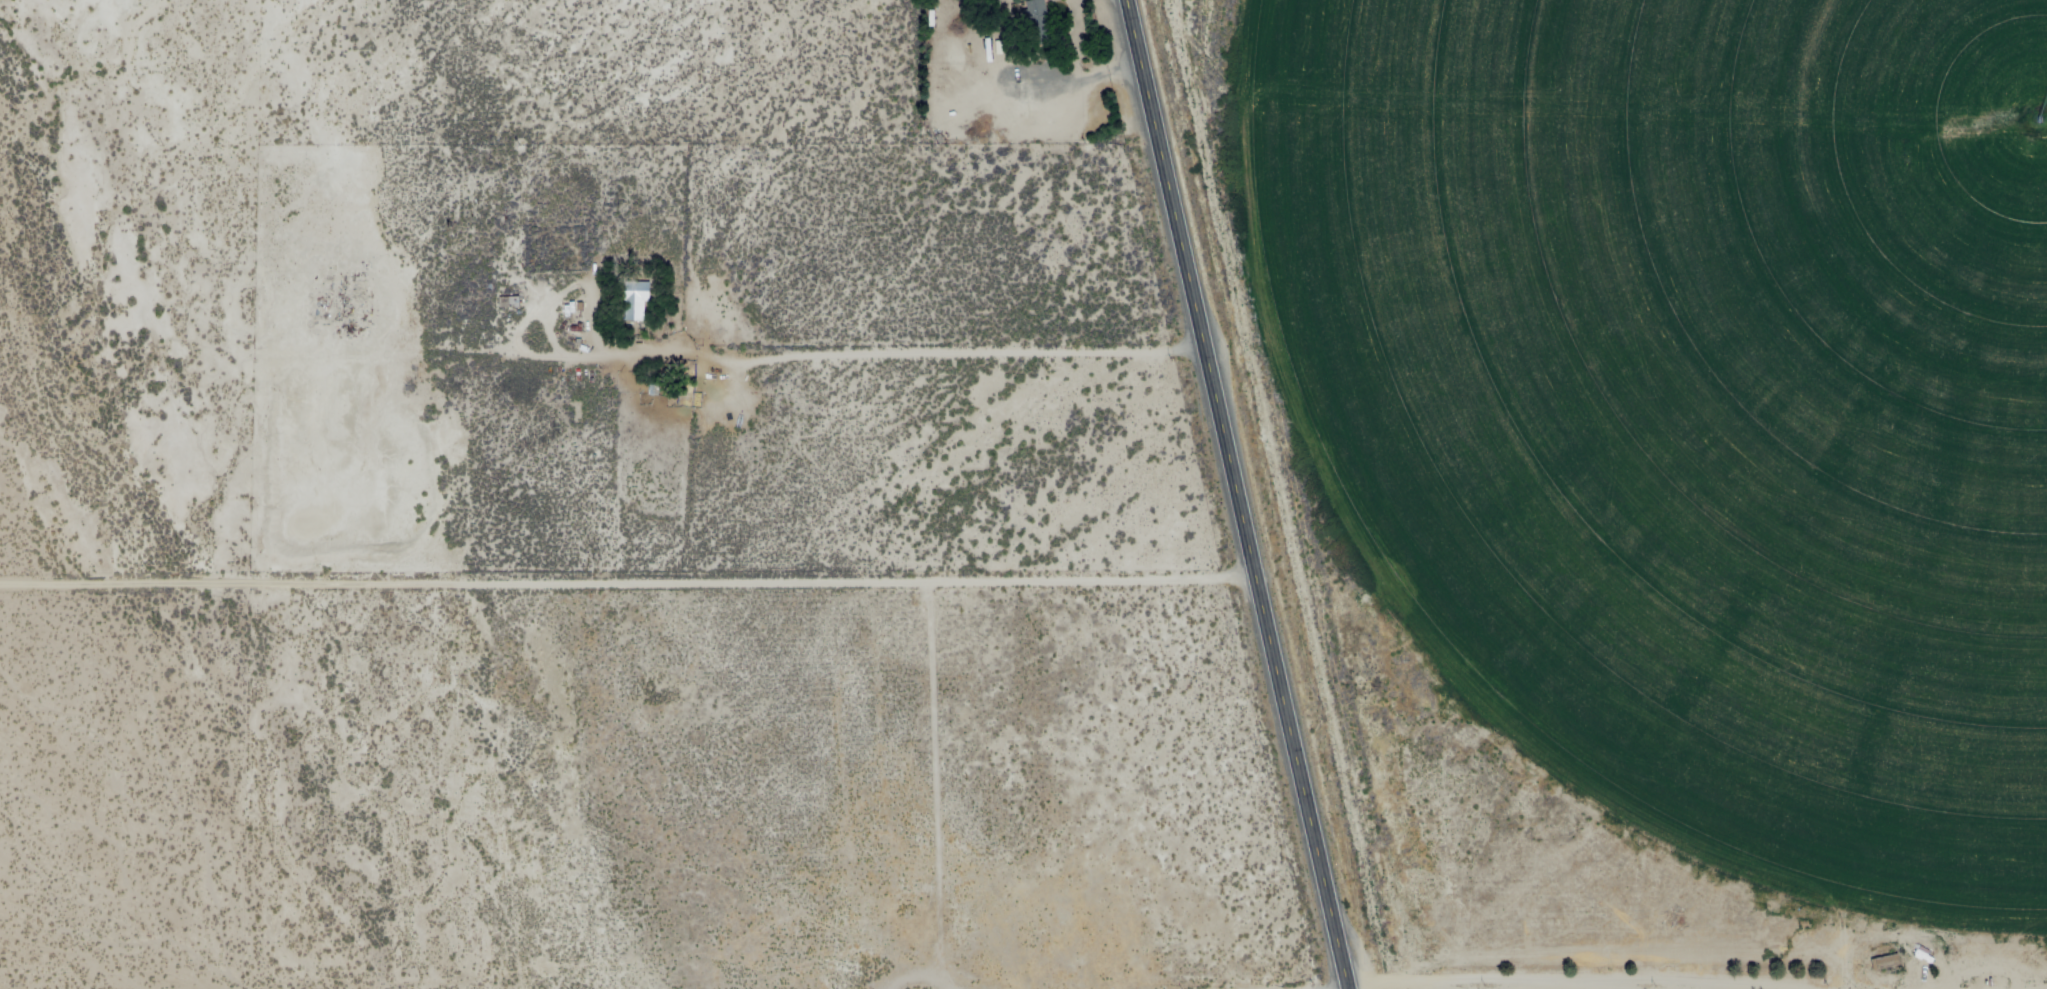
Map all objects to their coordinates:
building: (1042, 26)
building: (507, 302)
building: (637, 304)
road: (883, 359)
crop: (1688, 401)
road: (1239, 494)
road: (629, 589)
building: (1891, 966)

